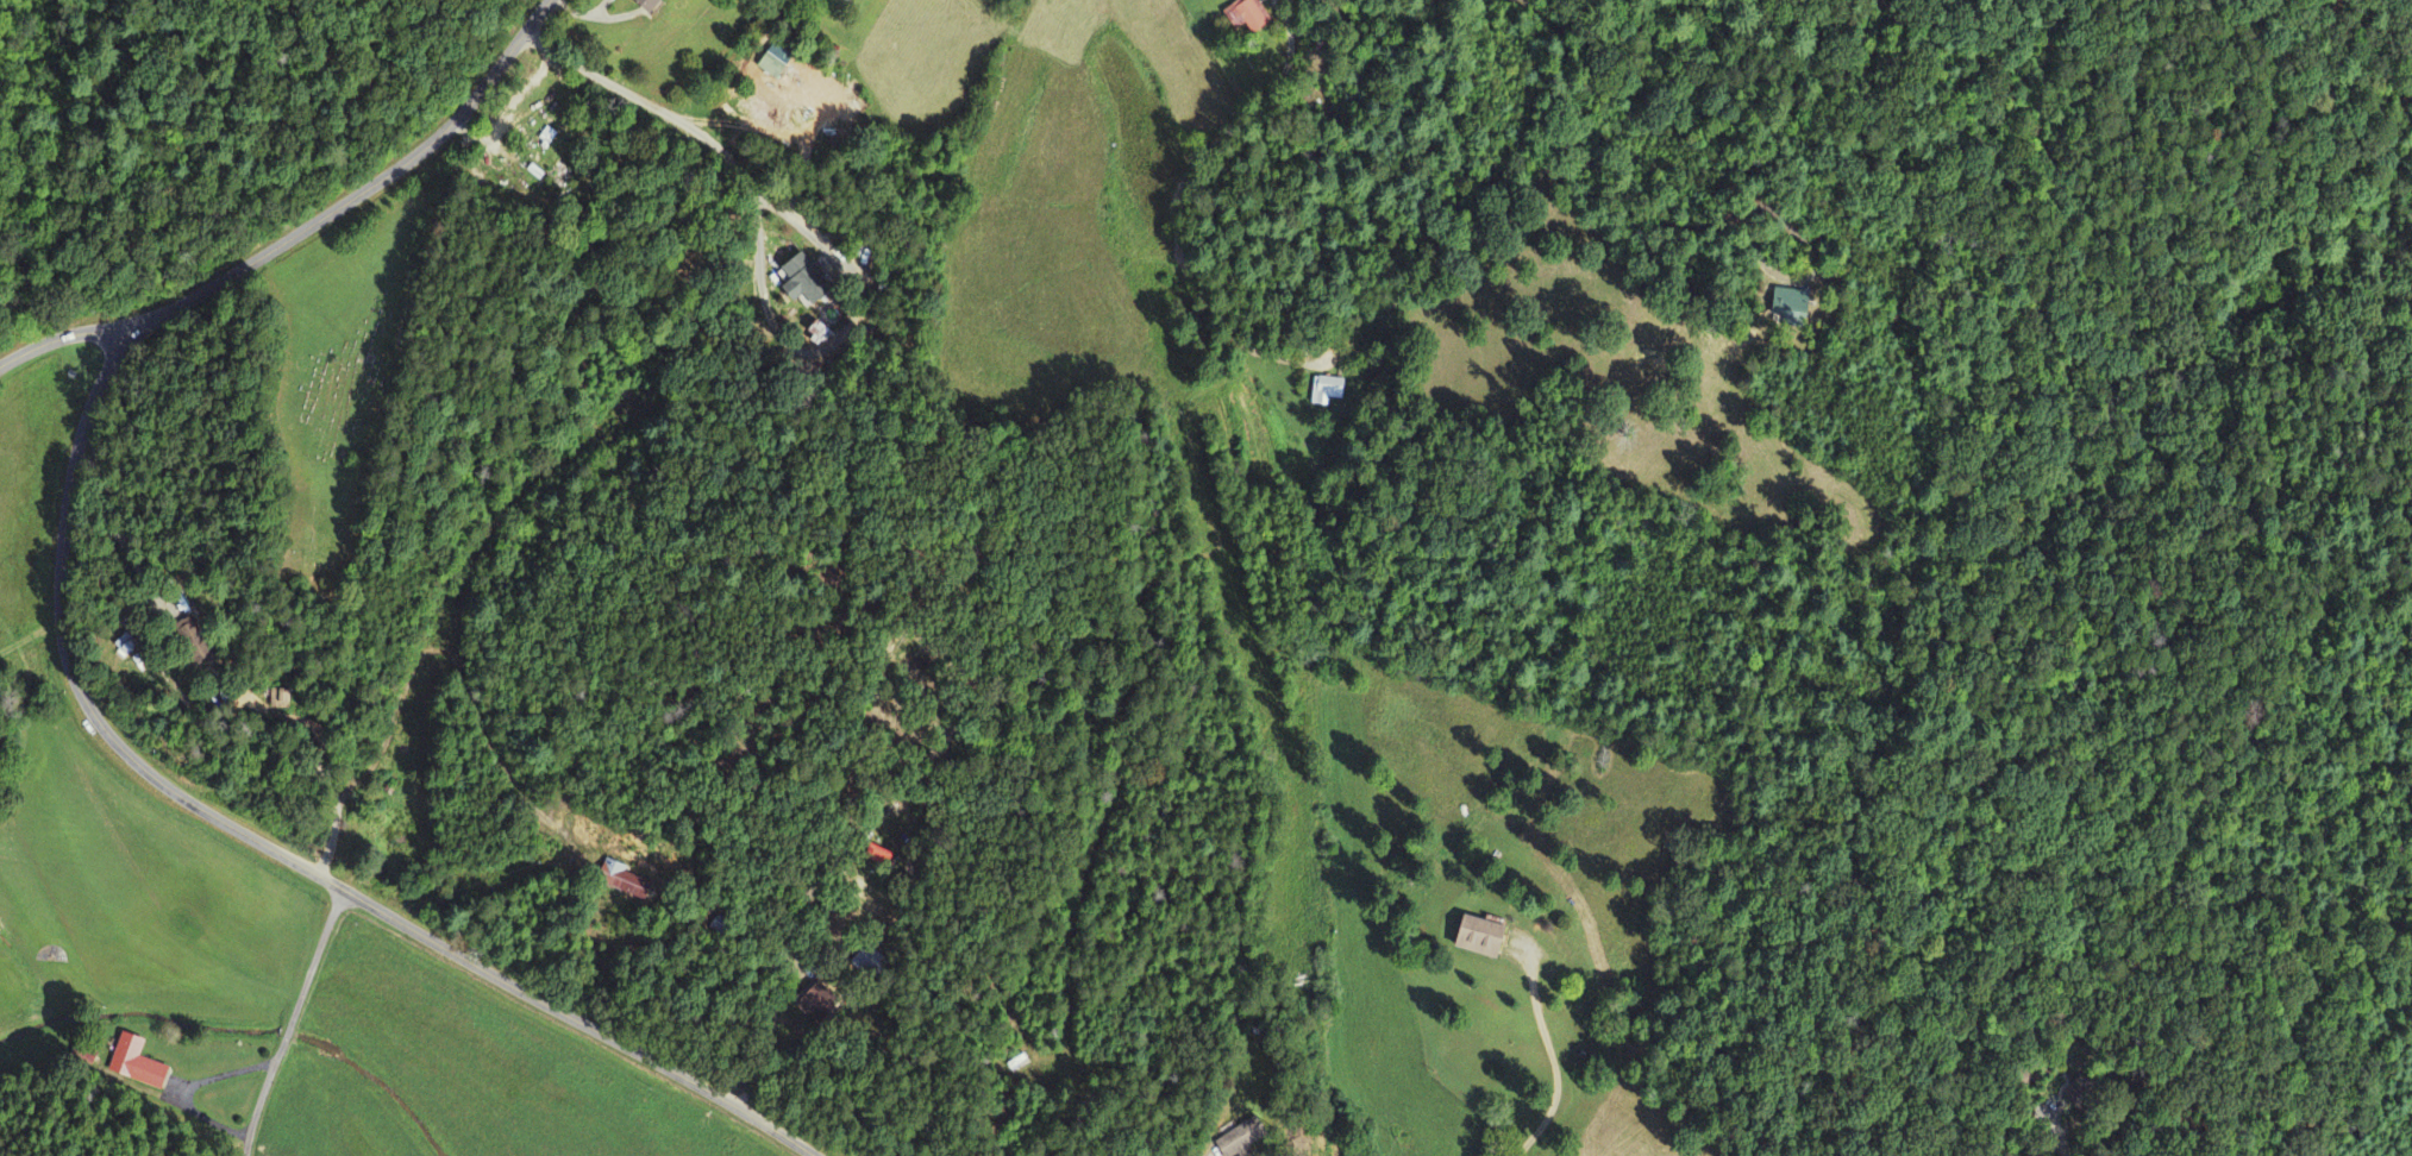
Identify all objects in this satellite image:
building: (847, 0)
building: (644, 5)
building: (1246, 15)
building: (770, 65)
building: (800, 282)
building: (1788, 304)
road: (59, 338)
building: (1327, 391)
park: (333, 397)
building: (189, 643)
road: (70, 673)
building: (624, 884)
building: (1476, 940)
road: (289, 1022)
building: (134, 1064)
building: (1239, 1138)

